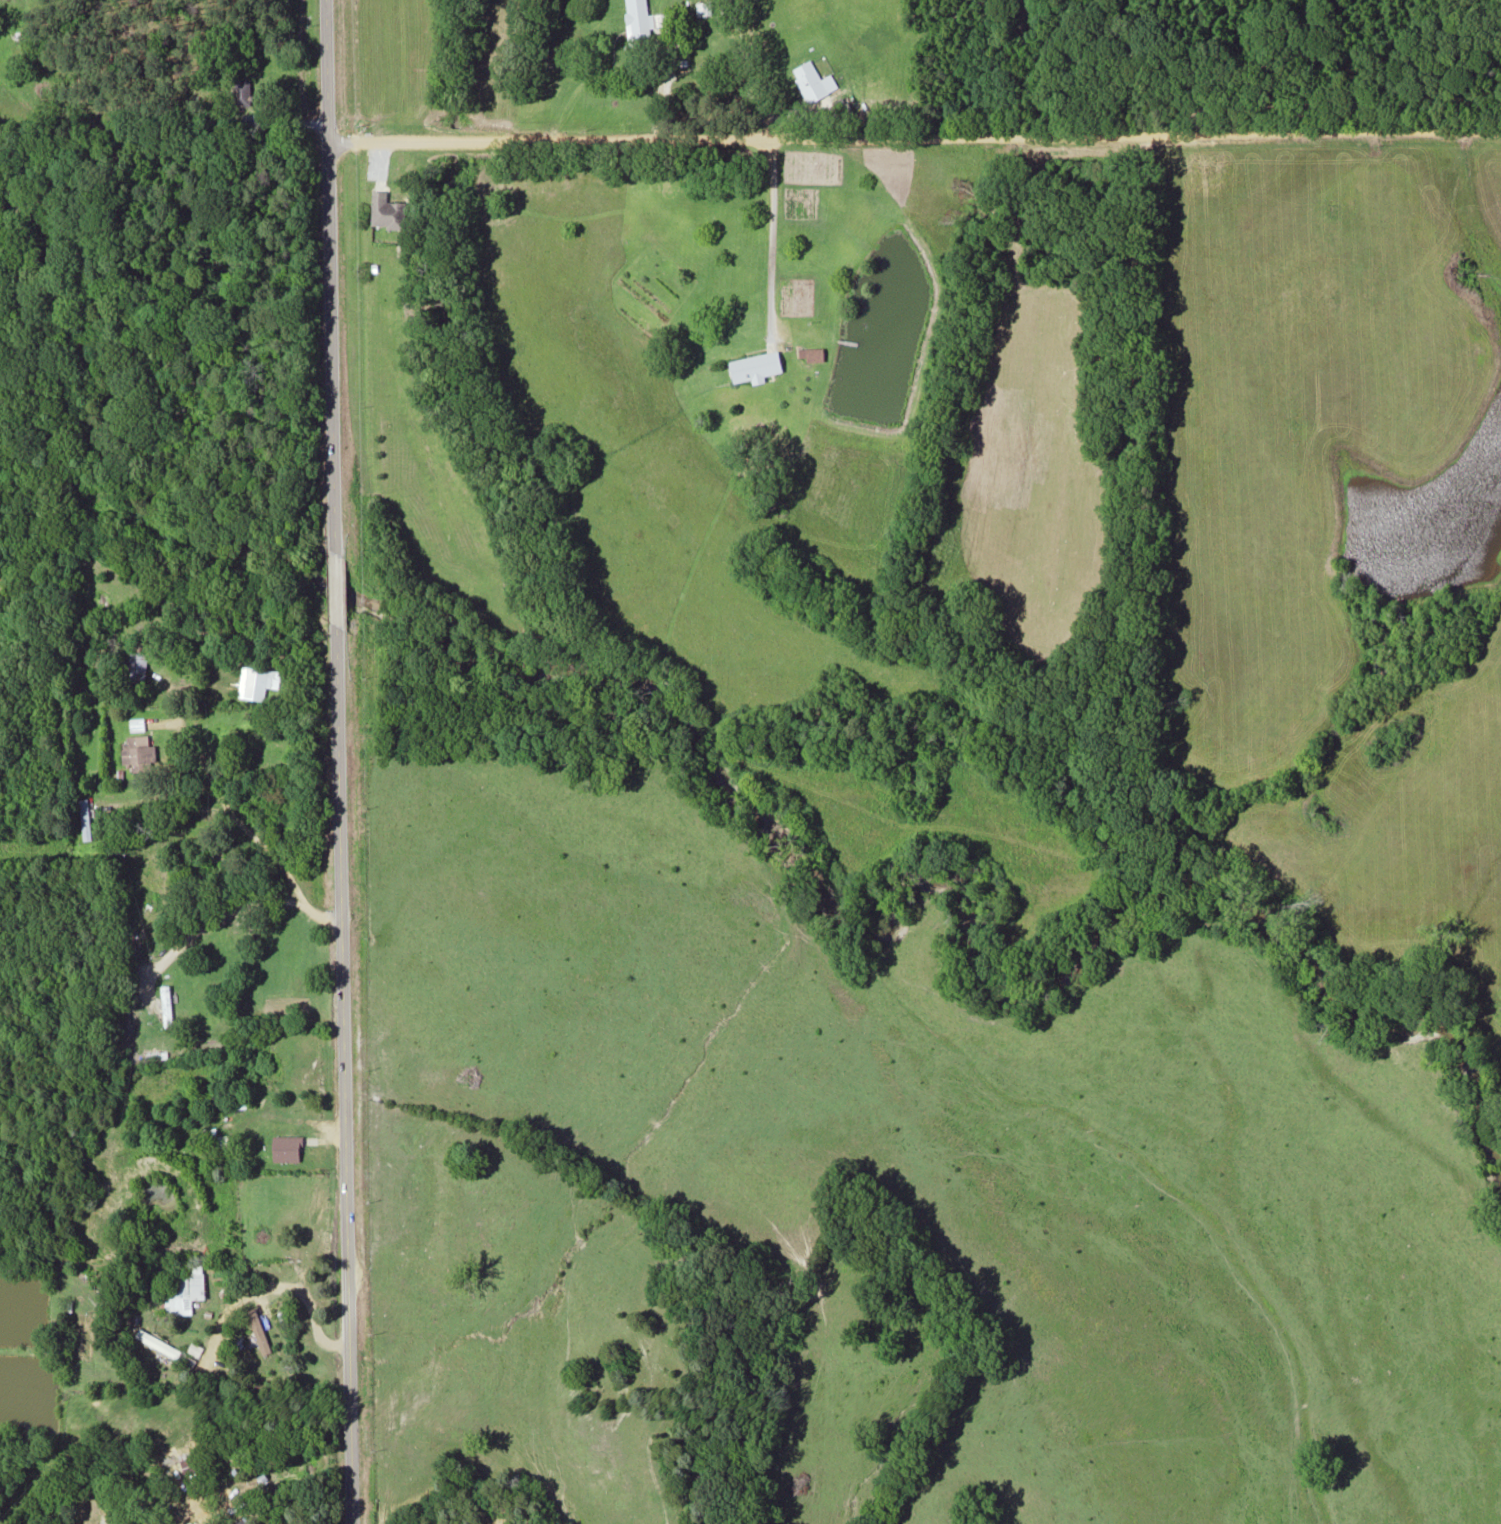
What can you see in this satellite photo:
building: (702, 7)
building: (636, 19)
building: (808, 78)
building: (240, 95)
road: (914, 135)
building: (386, 211)
road: (329, 274)
building: (811, 353)
building: (756, 366)
road: (333, 586)
building: (135, 668)
building: (255, 681)
building: (134, 749)
building: (84, 818)
road: (247, 831)
road: (223, 910)
building: (166, 1004)
road: (342, 1073)
building: (275, 1088)
road: (279, 1284)
building: (184, 1288)
building: (156, 1342)
building: (102, 1509)
building: (241, 1521)

